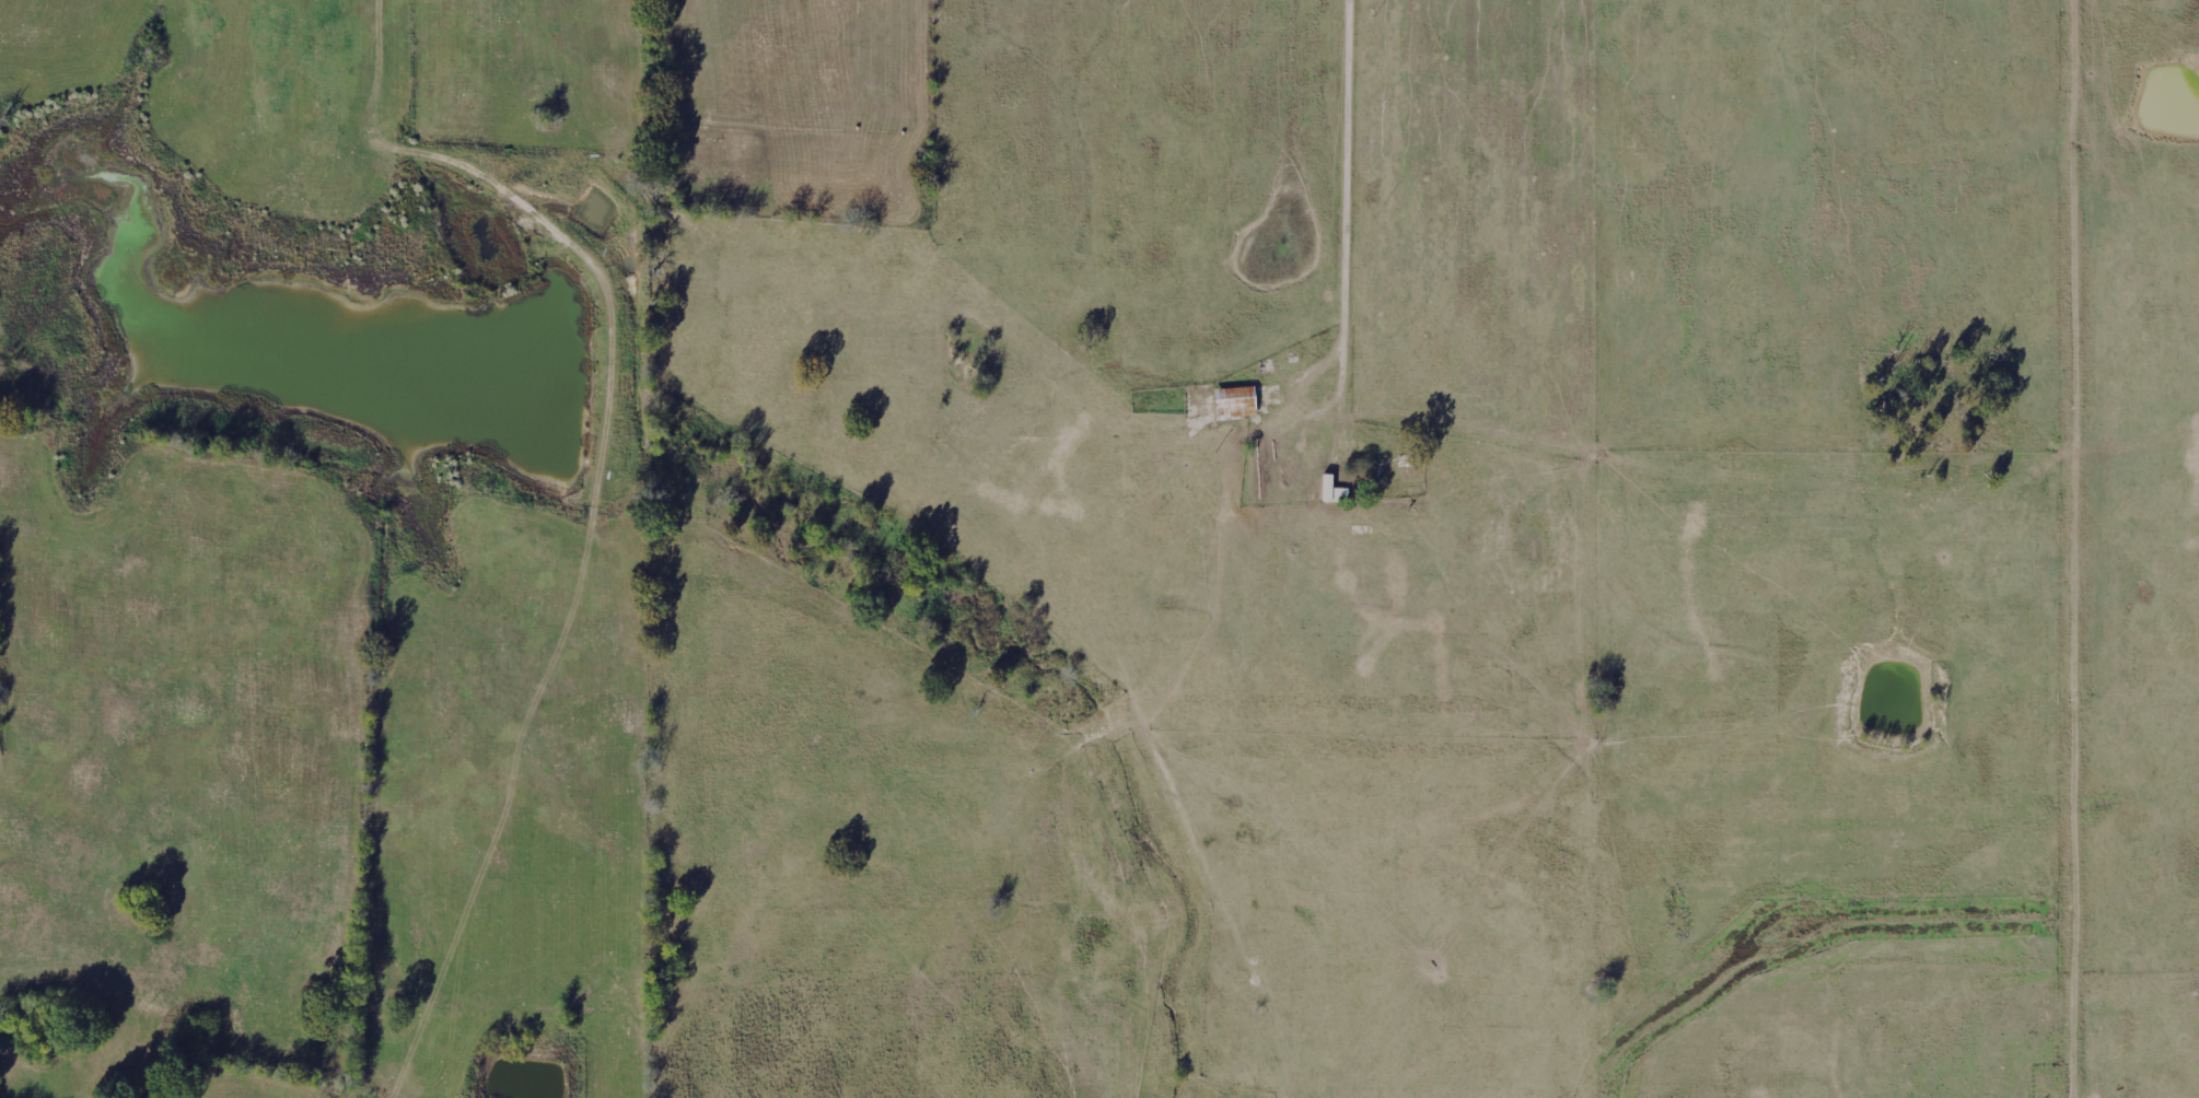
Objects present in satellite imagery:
road: (1350, 178)
building: (1235, 401)
road: (1327, 405)
building: (1333, 491)

